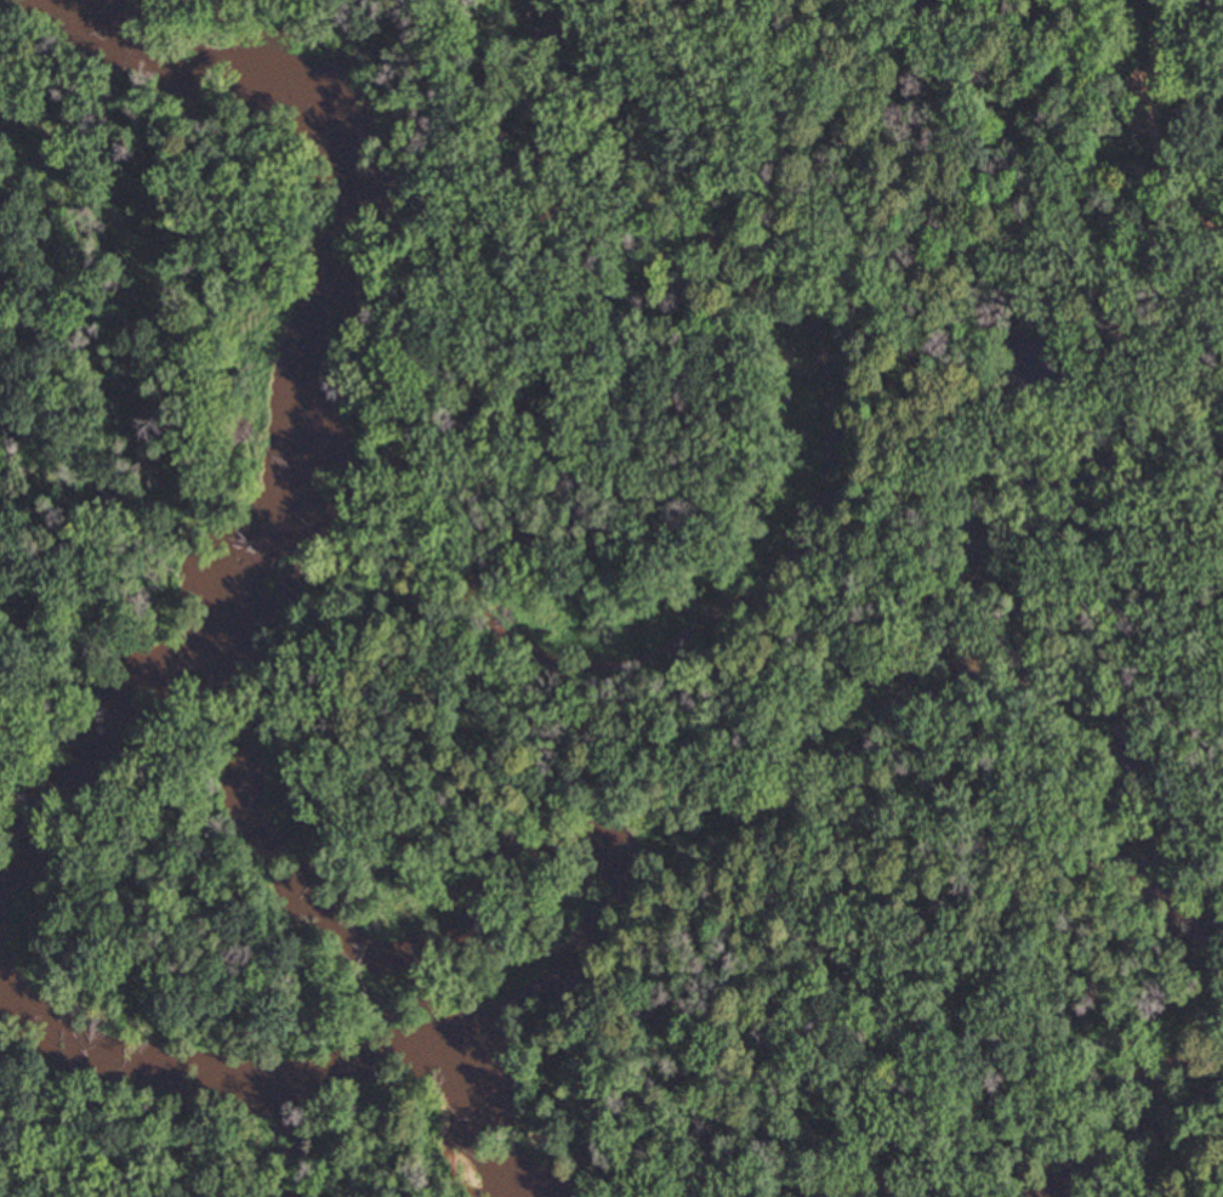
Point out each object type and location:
river: (912, 602)

